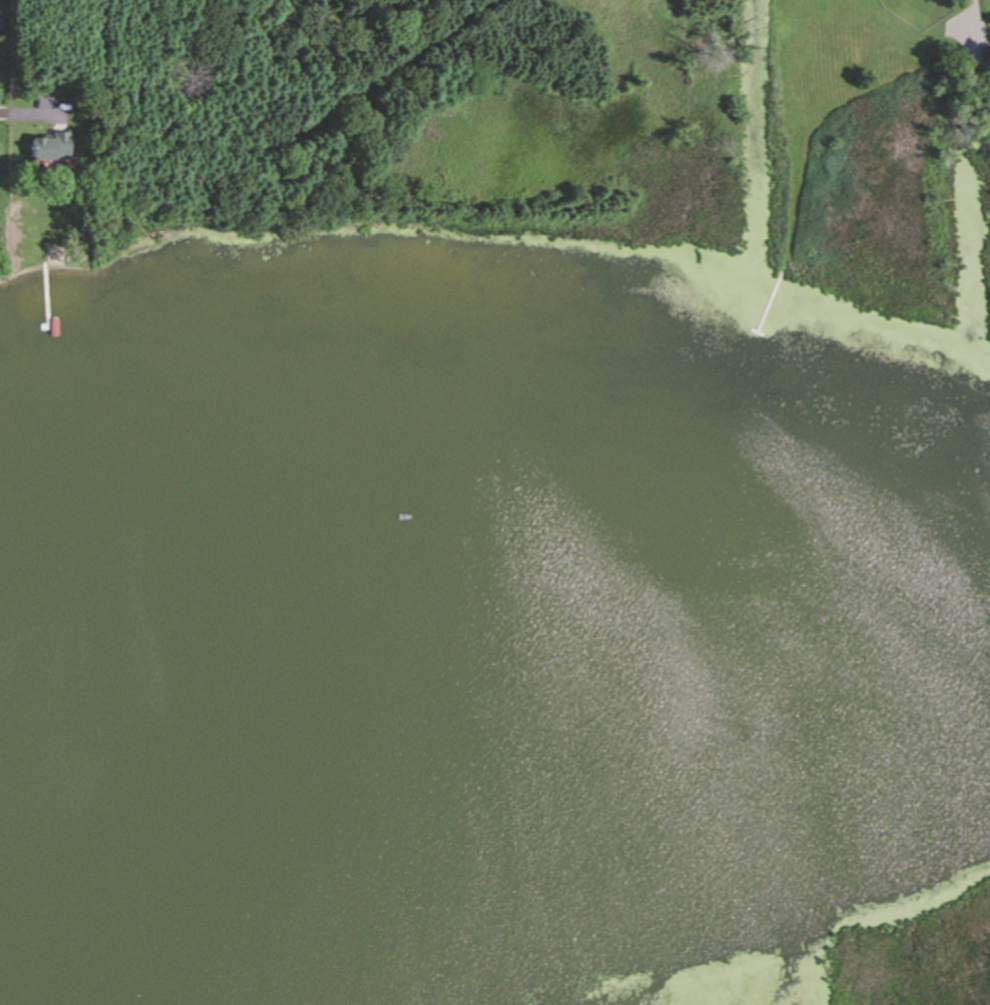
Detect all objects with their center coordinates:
road: (969, 25)
road: (32, 113)
building: (51, 141)
building: (83, 231)
building: (47, 248)
park: (915, 956)

